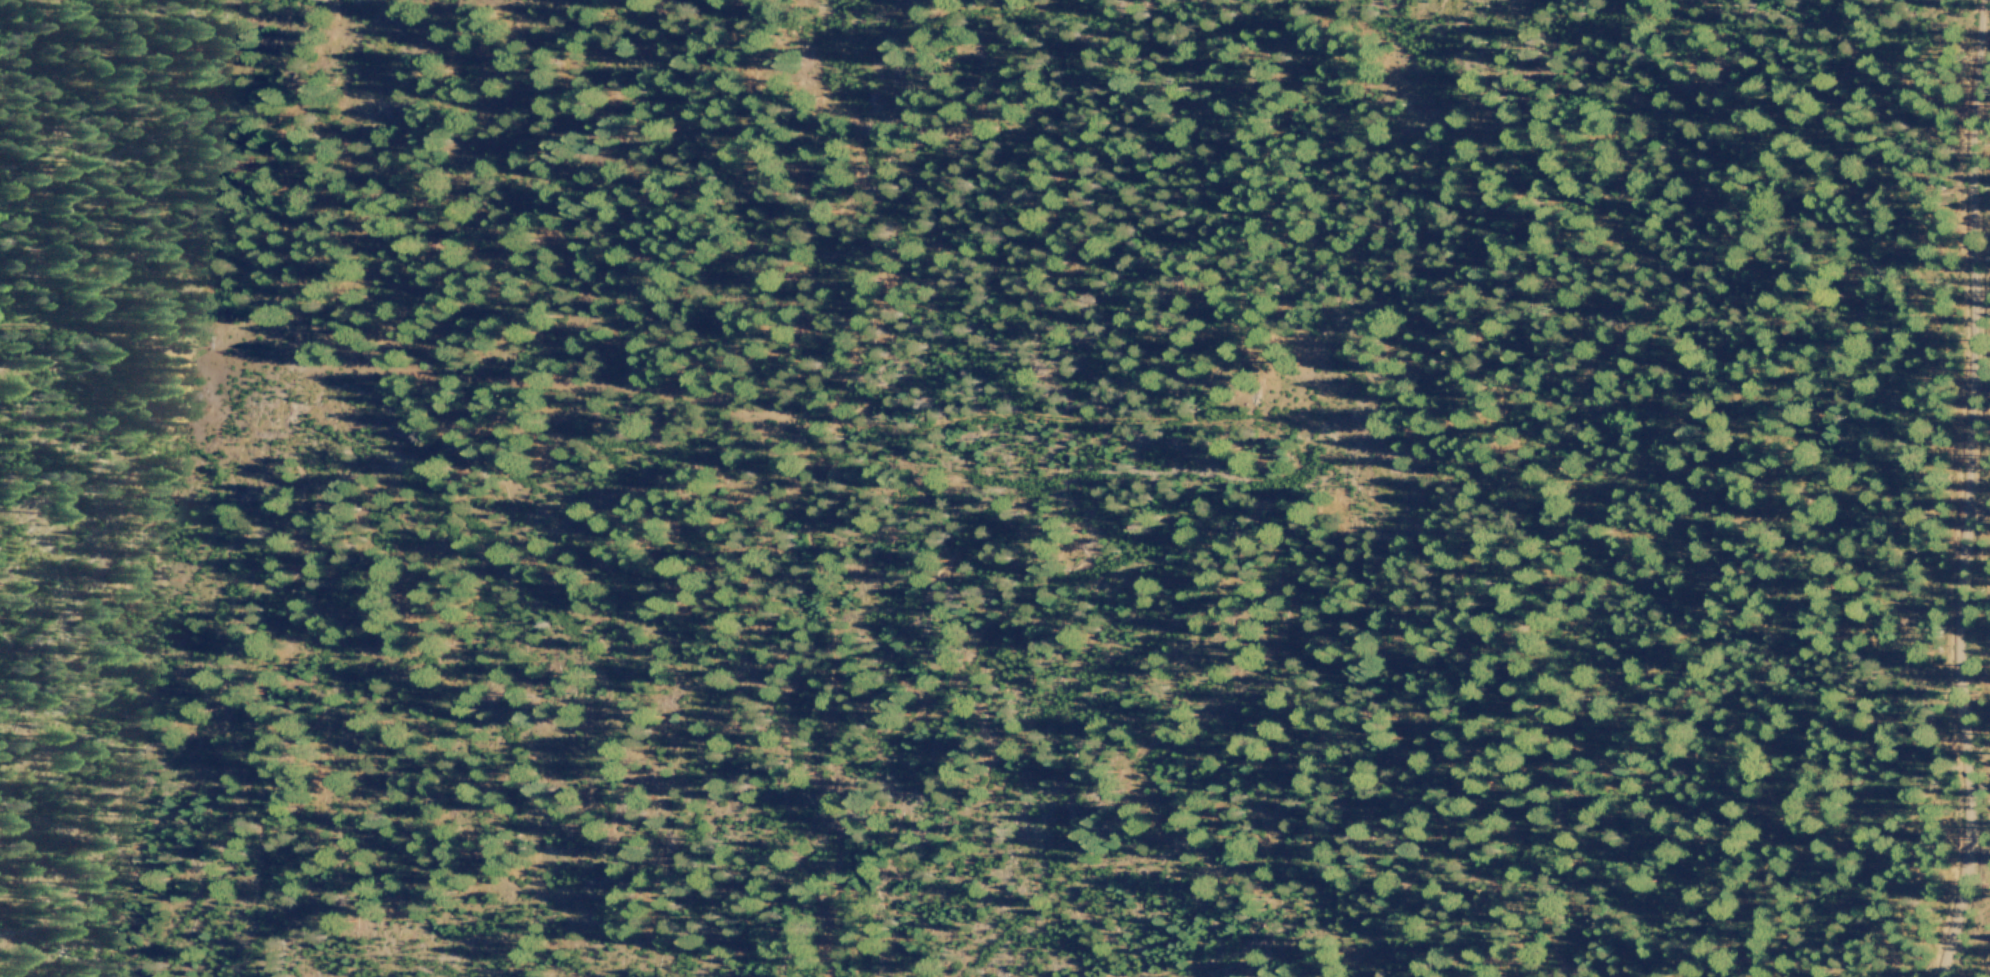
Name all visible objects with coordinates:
road: (1967, 488)

